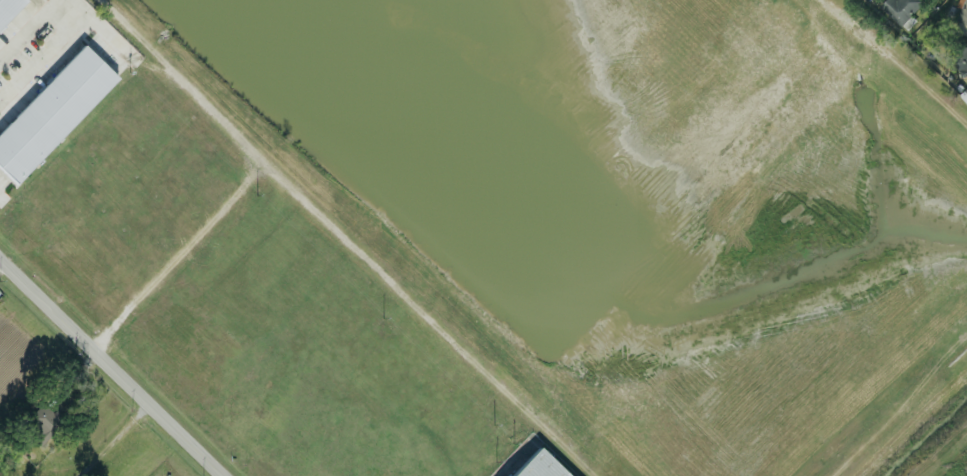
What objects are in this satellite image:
building: (8, 8)
building: (900, 9)
building: (963, 12)
road: (68, 28)
building: (961, 60)
building: (964, 94)
building: (52, 110)
road: (110, 367)
building: (46, 423)
road: (114, 440)
building: (537, 465)

